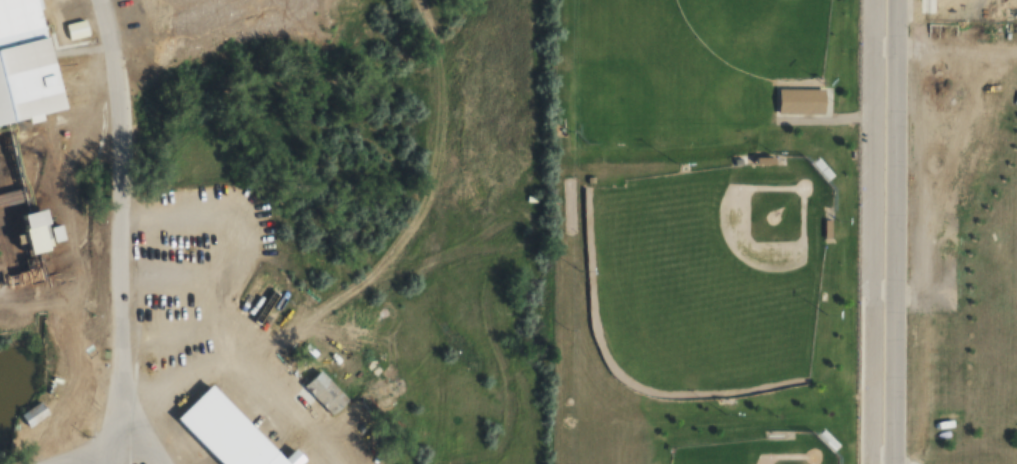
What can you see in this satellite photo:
park: (761, 34)
road: (875, 39)
road: (887, 45)
road: (958, 50)
road: (877, 51)
building: (23, 65)
building: (801, 100)
parking lot: (870, 218)
building: (43, 231)
road: (115, 231)
road: (892, 232)
road: (872, 236)
park: (707, 273)
road: (874, 283)
road: (886, 288)
building: (958, 292)
road: (874, 295)
road: (859, 378)
building: (35, 413)
building: (225, 426)
park: (765, 449)
building: (297, 457)

